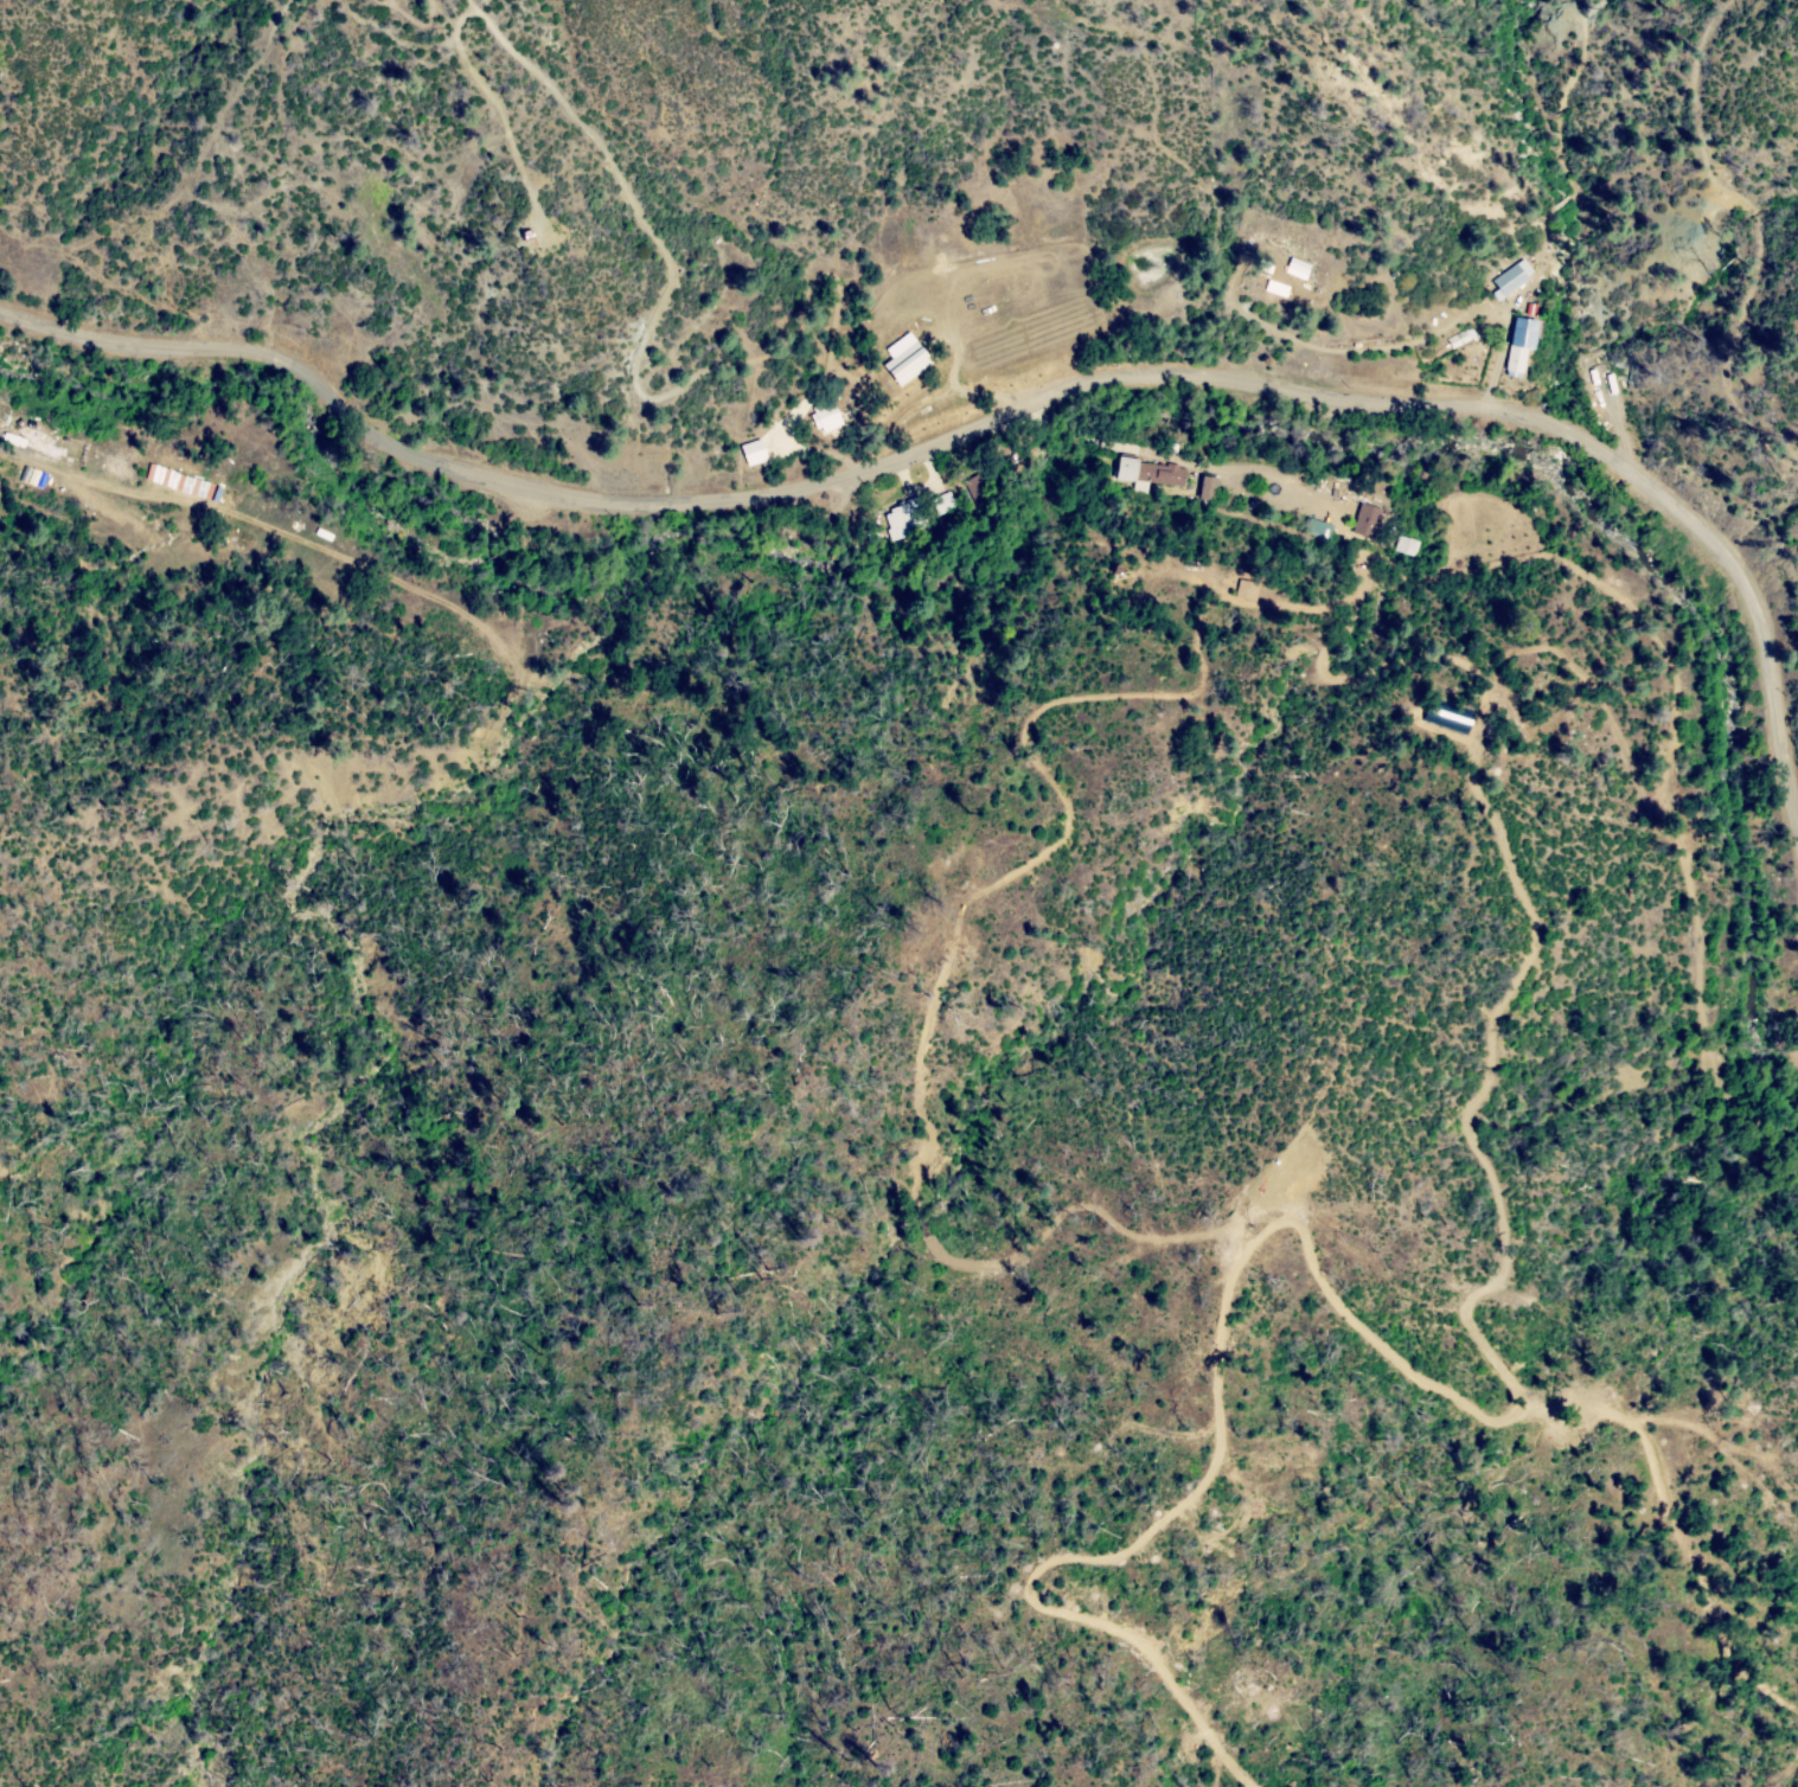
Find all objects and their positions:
building: (1295, 268)
building: (1516, 277)
building: (1464, 338)
building: (1524, 345)
building: (908, 363)
building: (1598, 389)
building: (680, 393)
building: (5, 412)
building: (828, 414)
road: (1010, 417)
building: (76, 448)
building: (751, 451)
road: (34, 456)
building: (1128, 468)
building: (122, 469)
building: (1163, 475)
building: (33, 480)
building: (977, 483)
building: (1335, 483)
building: (1209, 489)
building: (942, 502)
building: (1253, 505)
building: (904, 518)
building: (1368, 521)
building: (1318, 529)
building: (1406, 546)
building: (1250, 590)
building: (1451, 718)

